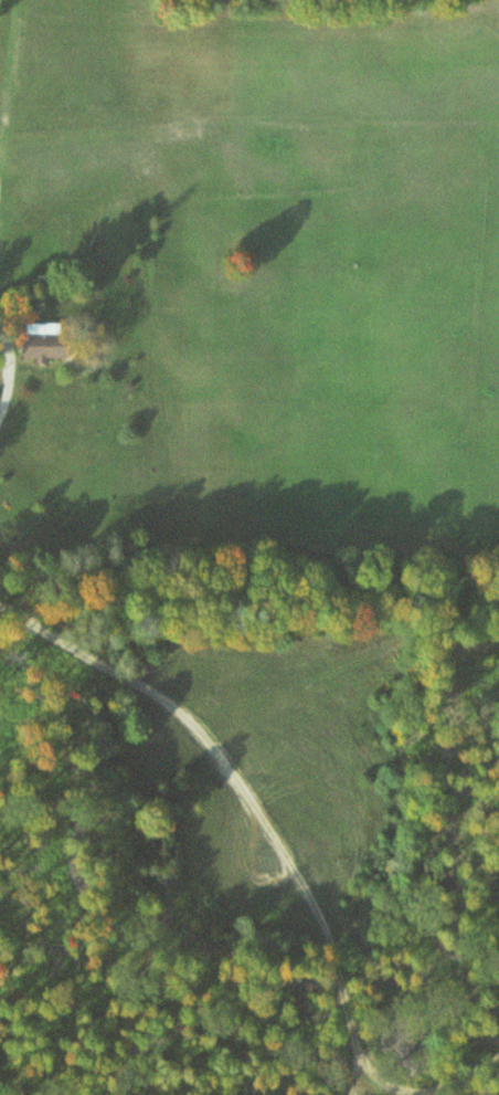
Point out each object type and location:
building: (36, 343)
road: (251, 788)
road: (425, 1059)

